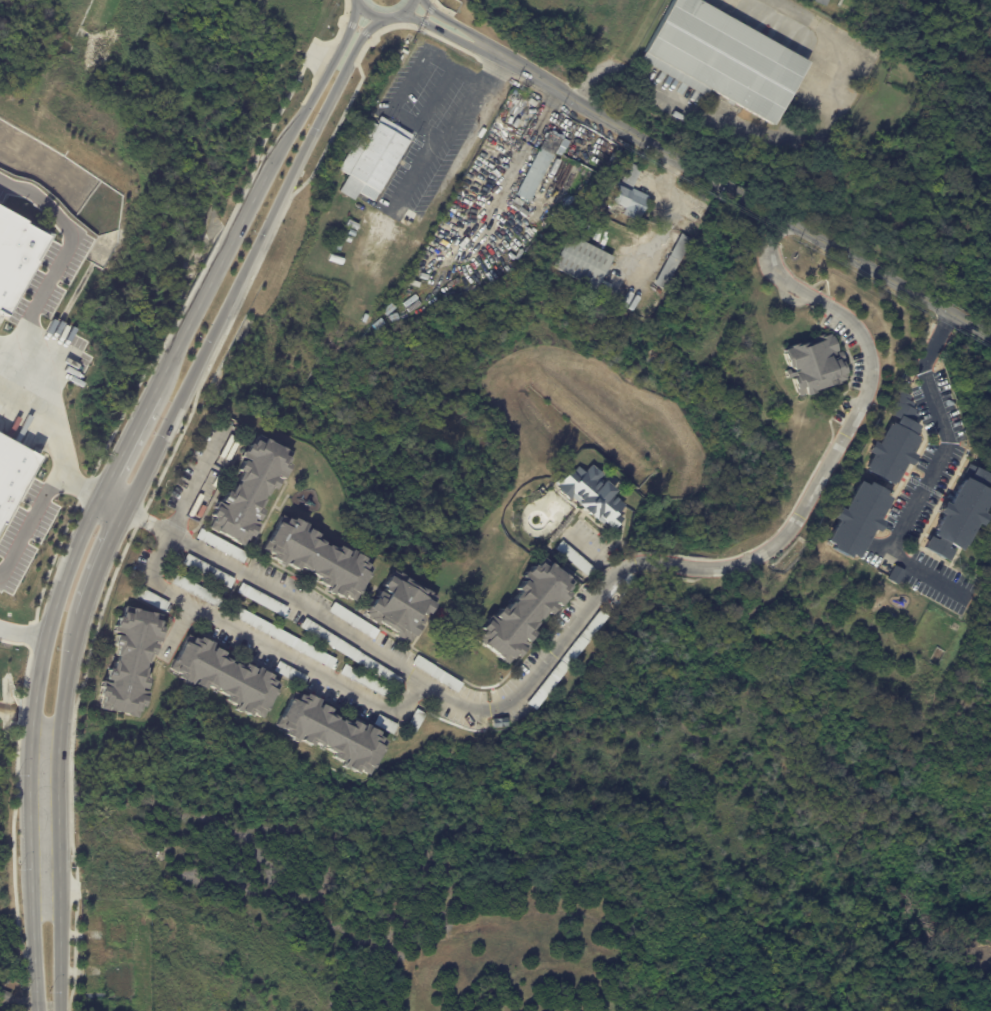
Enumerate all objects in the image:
building: (821, 2)
road: (442, 7)
road: (425, 14)
road: (385, 18)
road: (358, 26)
road: (500, 47)
road: (486, 53)
road: (328, 54)
road: (335, 54)
building: (723, 58)
road: (451, 72)
road: (406, 83)
building: (534, 104)
road: (455, 124)
road: (778, 138)
road: (519, 155)
building: (372, 157)
building: (540, 163)
road: (412, 173)
building: (630, 194)
building: (515, 206)
road: (666, 217)
road: (781, 218)
building: (351, 224)
building: (511, 226)
building: (350, 232)
building: (608, 241)
building: (335, 246)
building: (18, 253)
road: (61, 259)
building: (335, 259)
building: (672, 261)
building: (586, 262)
road: (773, 266)
building: (814, 364)
road: (194, 399)
road: (46, 407)
building: (895, 442)
road: (936, 469)
building: (12, 470)
road: (136, 486)
building: (247, 492)
building: (591, 495)
road: (112, 503)
road: (41, 505)
road: (134, 514)
building: (959, 515)
building: (856, 521)
road: (82, 534)
building: (221, 546)
road: (589, 553)
building: (315, 559)
building: (574, 559)
building: (207, 572)
building: (895, 575)
building: (196, 591)
building: (152, 599)
building: (261, 600)
building: (397, 608)
building: (523, 612)
road: (216, 616)
road: (578, 618)
building: (352, 621)
road: (23, 634)
building: (280, 636)
building: (349, 653)
building: (129, 660)
building: (567, 660)
building: (290, 672)
building: (436, 674)
building: (223, 676)
building: (364, 681)
building: (414, 719)
building: (384, 723)
building: (499, 723)
building: (329, 732)
building: (4, 994)

